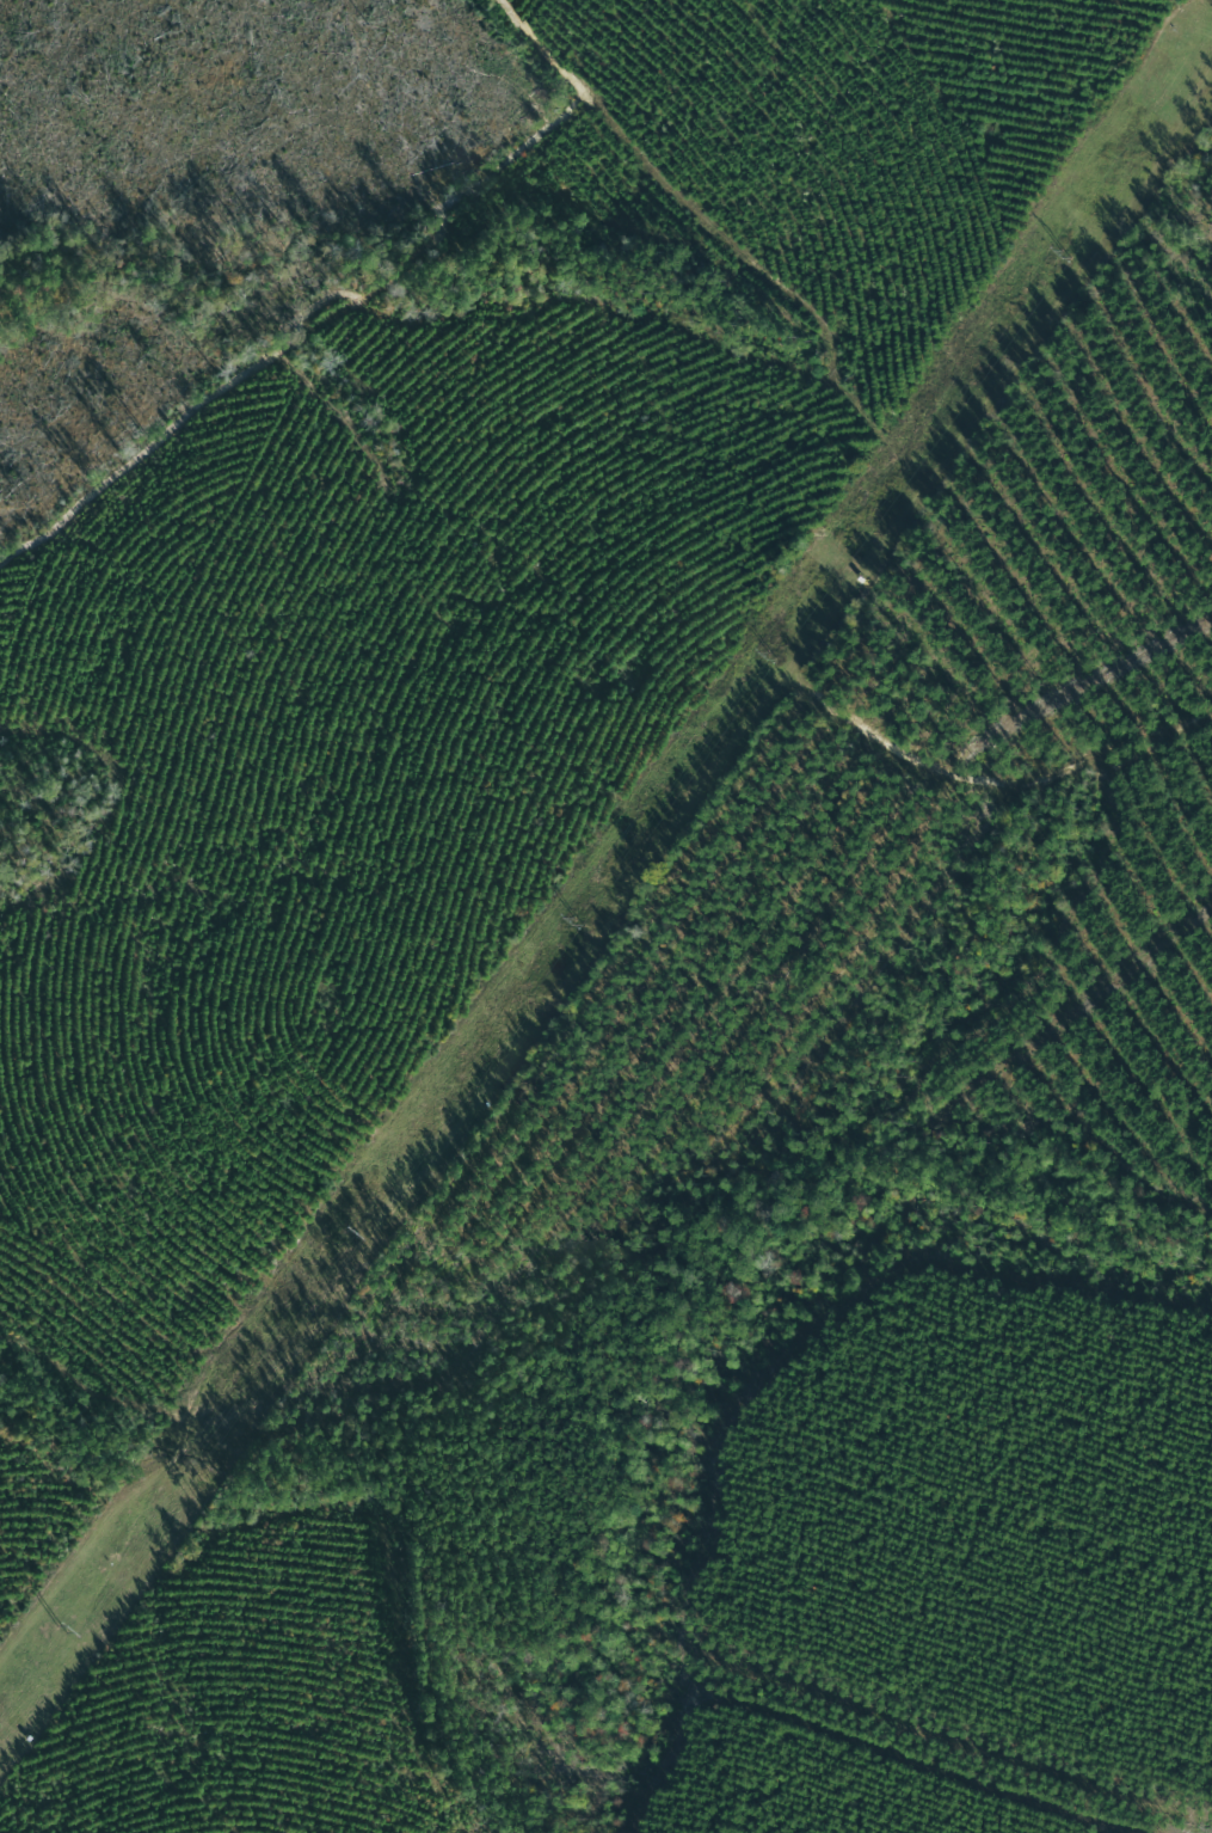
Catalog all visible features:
power tower: (1063, 253)
power tower: (770, 654)
power tower: (576, 920)
power tower: (346, 1232)
power tower: (59, 1626)

